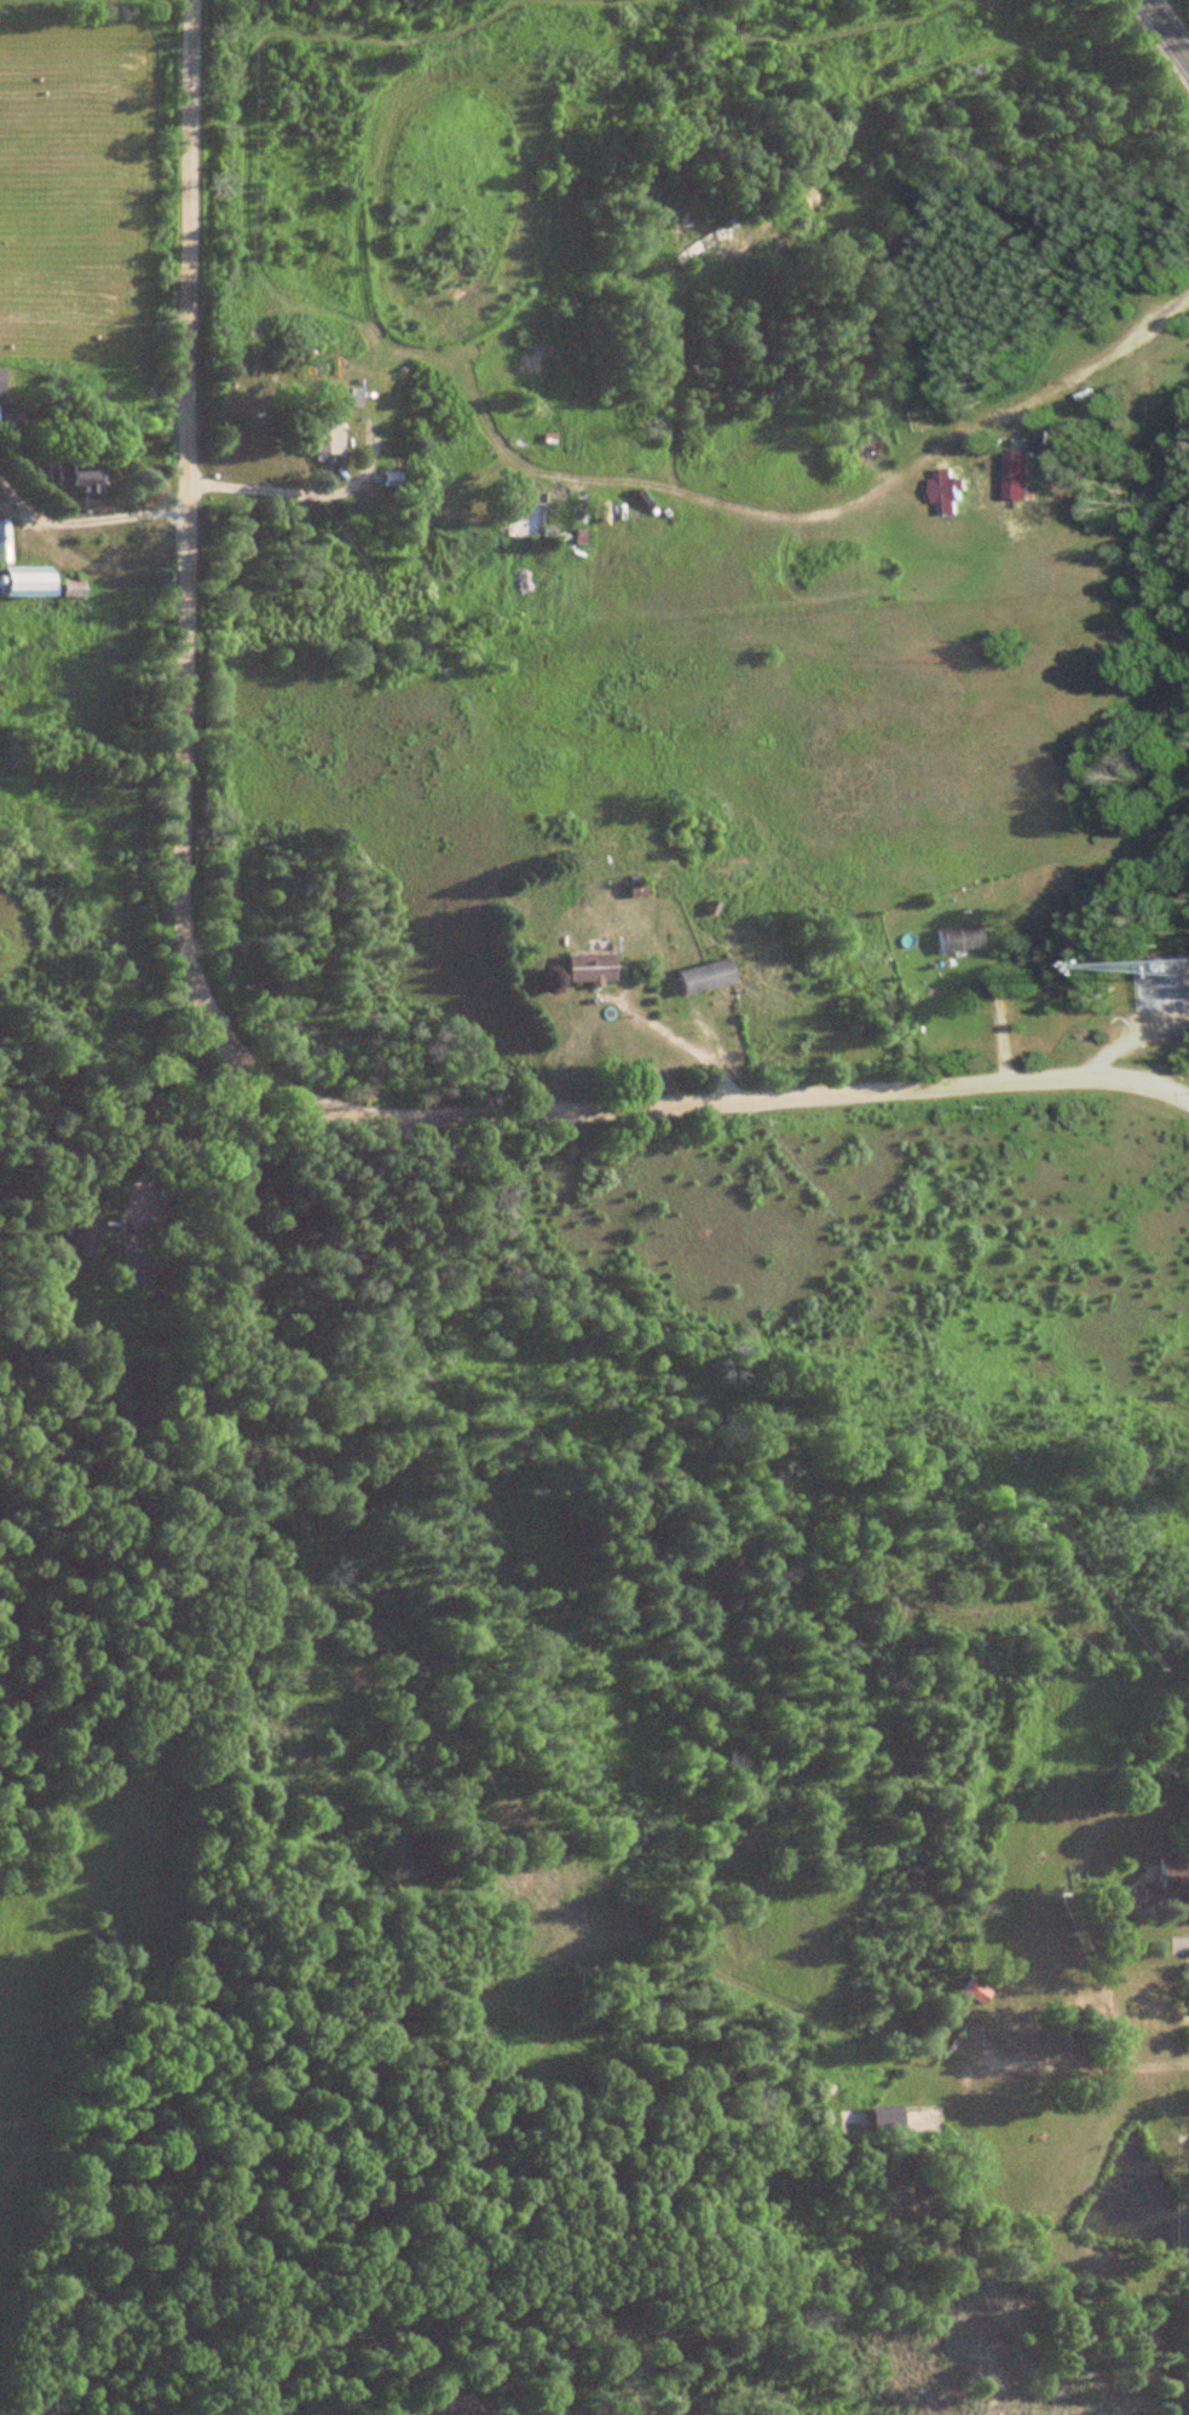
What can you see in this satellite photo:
road: (1165, 34)
building: (702, 245)
building: (2, 381)
building: (347, 397)
building: (327, 435)
building: (1014, 474)
building: (92, 479)
building: (946, 490)
building: (525, 519)
building: (4, 541)
road: (171, 549)
building: (29, 584)
building: (958, 938)
building: (593, 969)
building: (706, 976)
road: (734, 1061)
building: (83, 1235)
building: (1167, 1882)
building: (976, 1992)
road: (1070, 2063)
building: (893, 2120)

